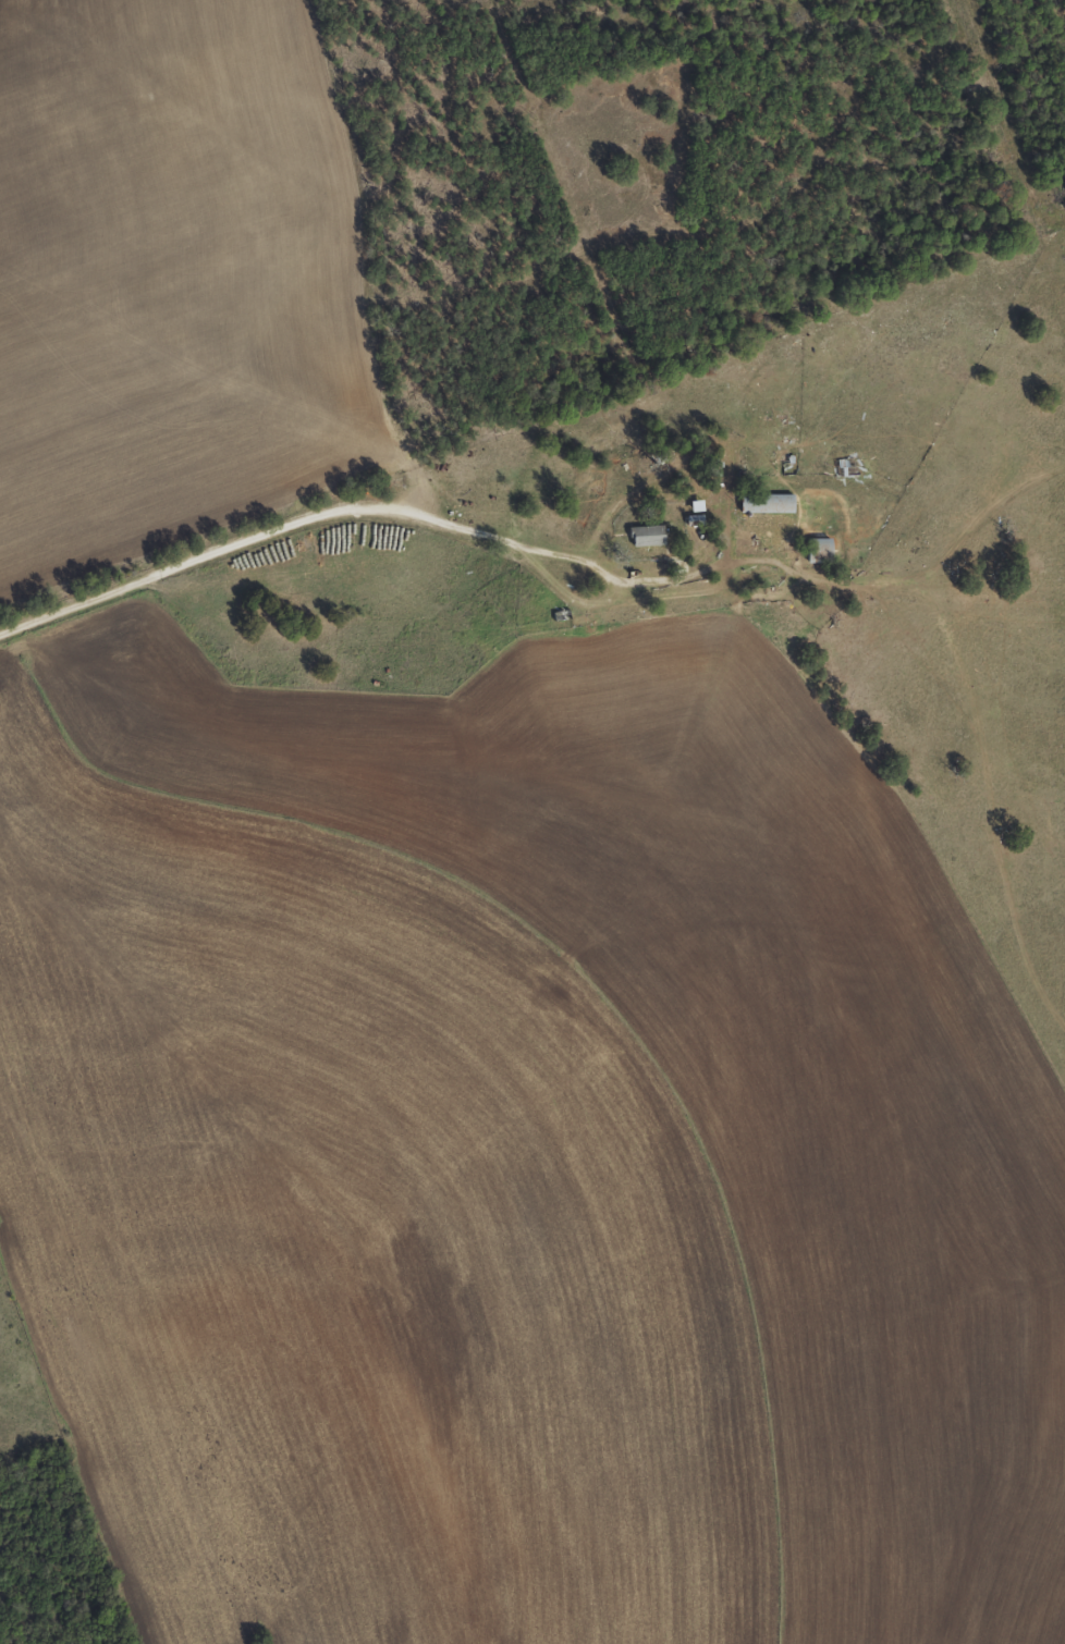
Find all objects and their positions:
building: (844, 466)
building: (763, 503)
building: (645, 536)
road: (279, 542)
building: (817, 550)

